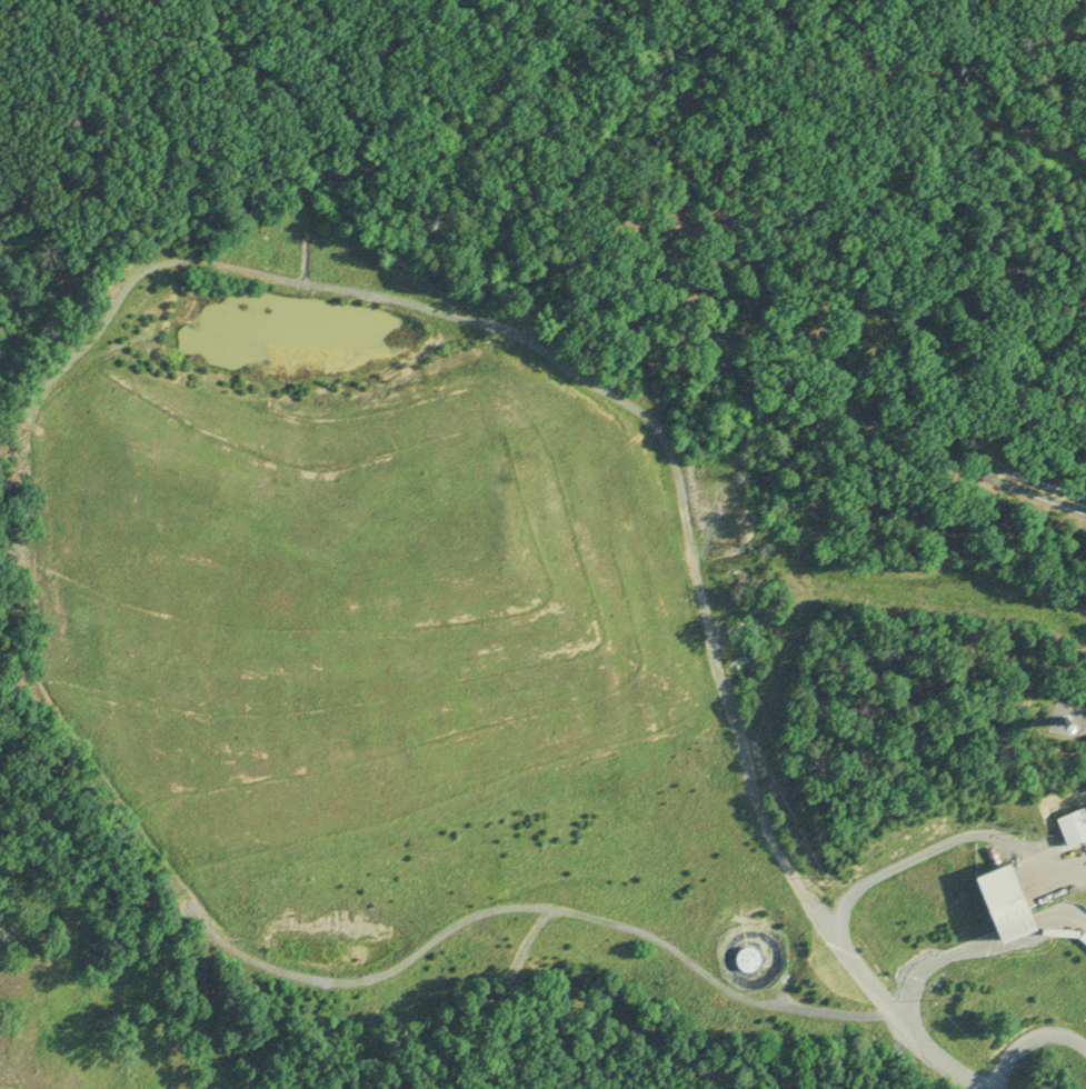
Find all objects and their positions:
road: (1044, 483)
road: (858, 899)
building: (995, 899)
road: (975, 945)
building: (745, 959)
road: (1030, 1042)

